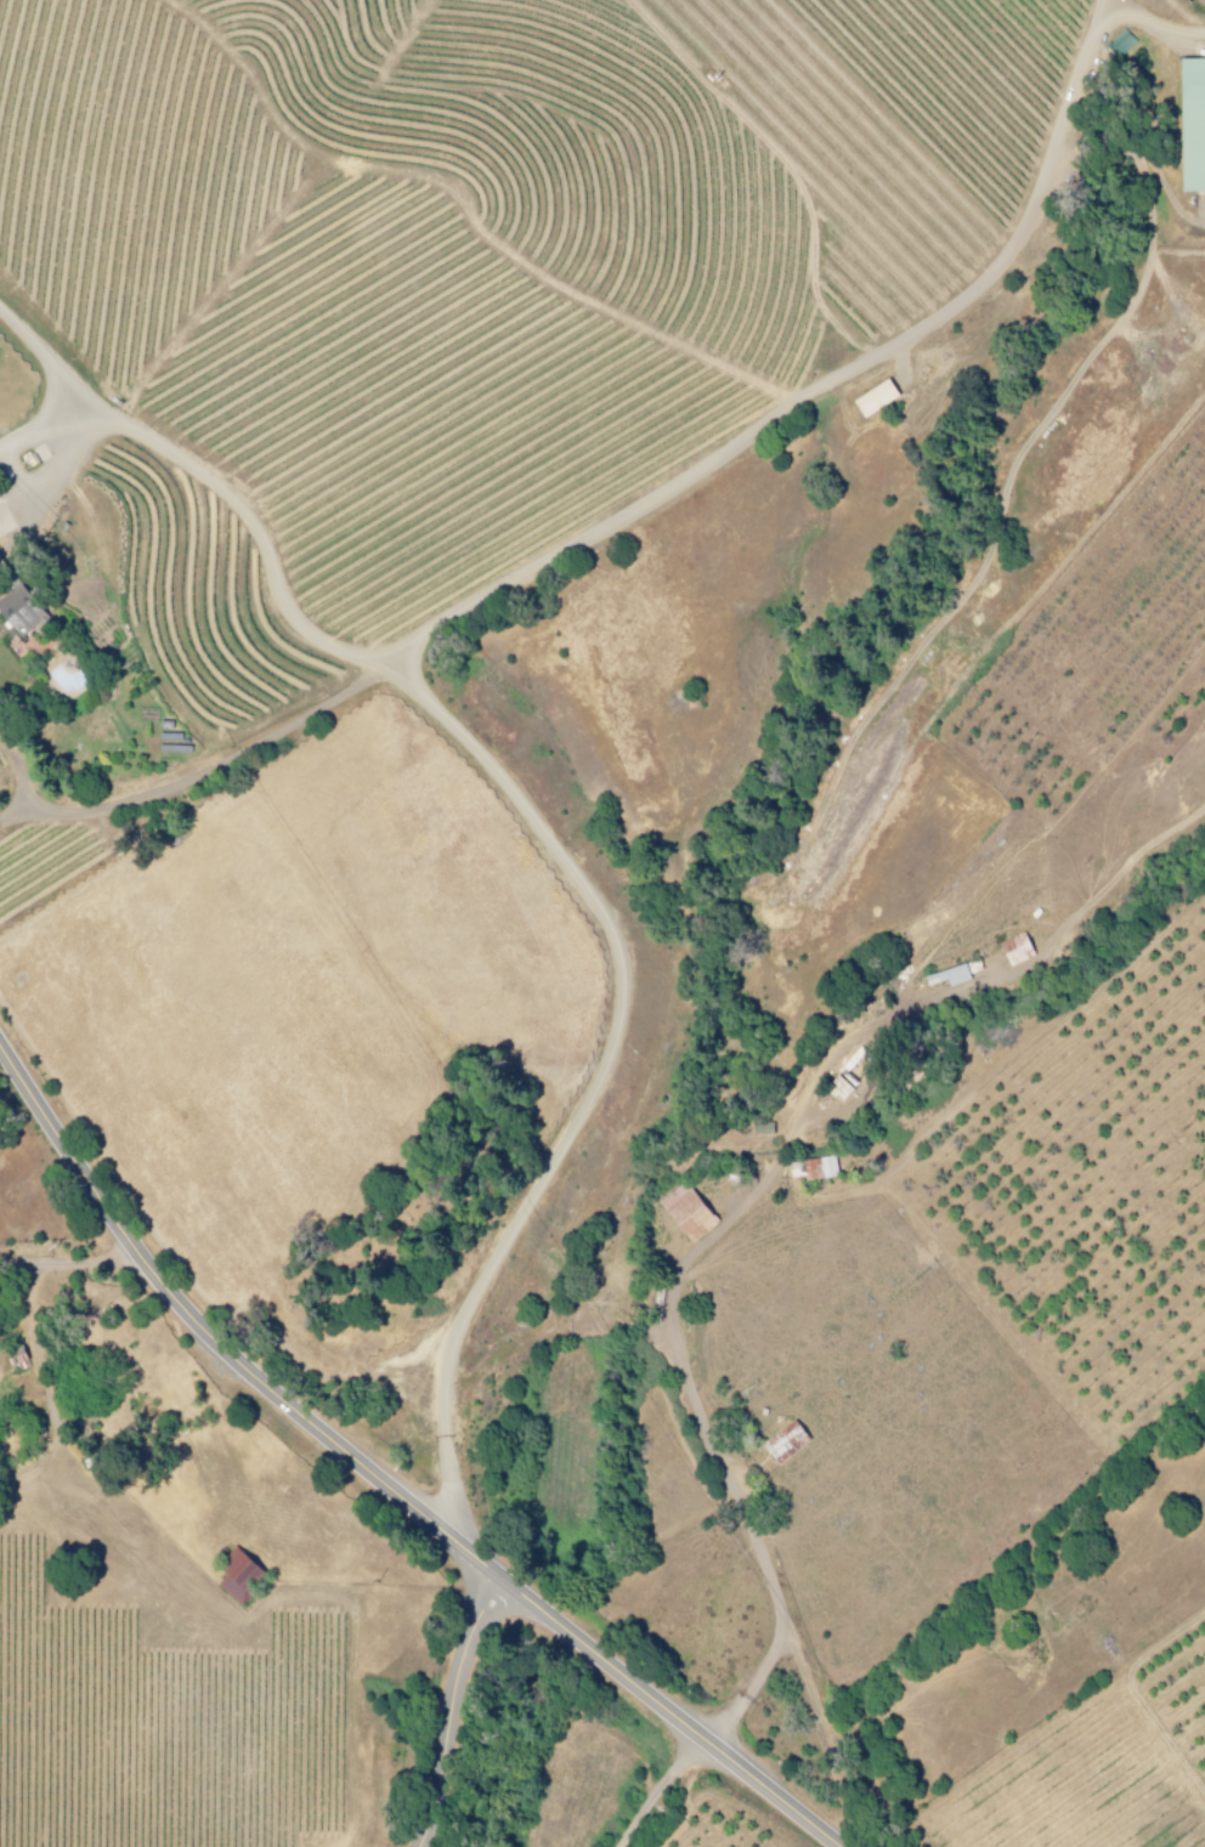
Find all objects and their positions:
building: (1122, 44)
building: (1189, 123)
building: (879, 398)
road: (533, 430)
building: (23, 610)
building: (1012, 948)
building: (945, 975)
road: (18, 1120)
building: (813, 1168)
road: (818, 1345)
building: (788, 1441)
road: (383, 1480)
building: (242, 1575)
road: (447, 1711)

